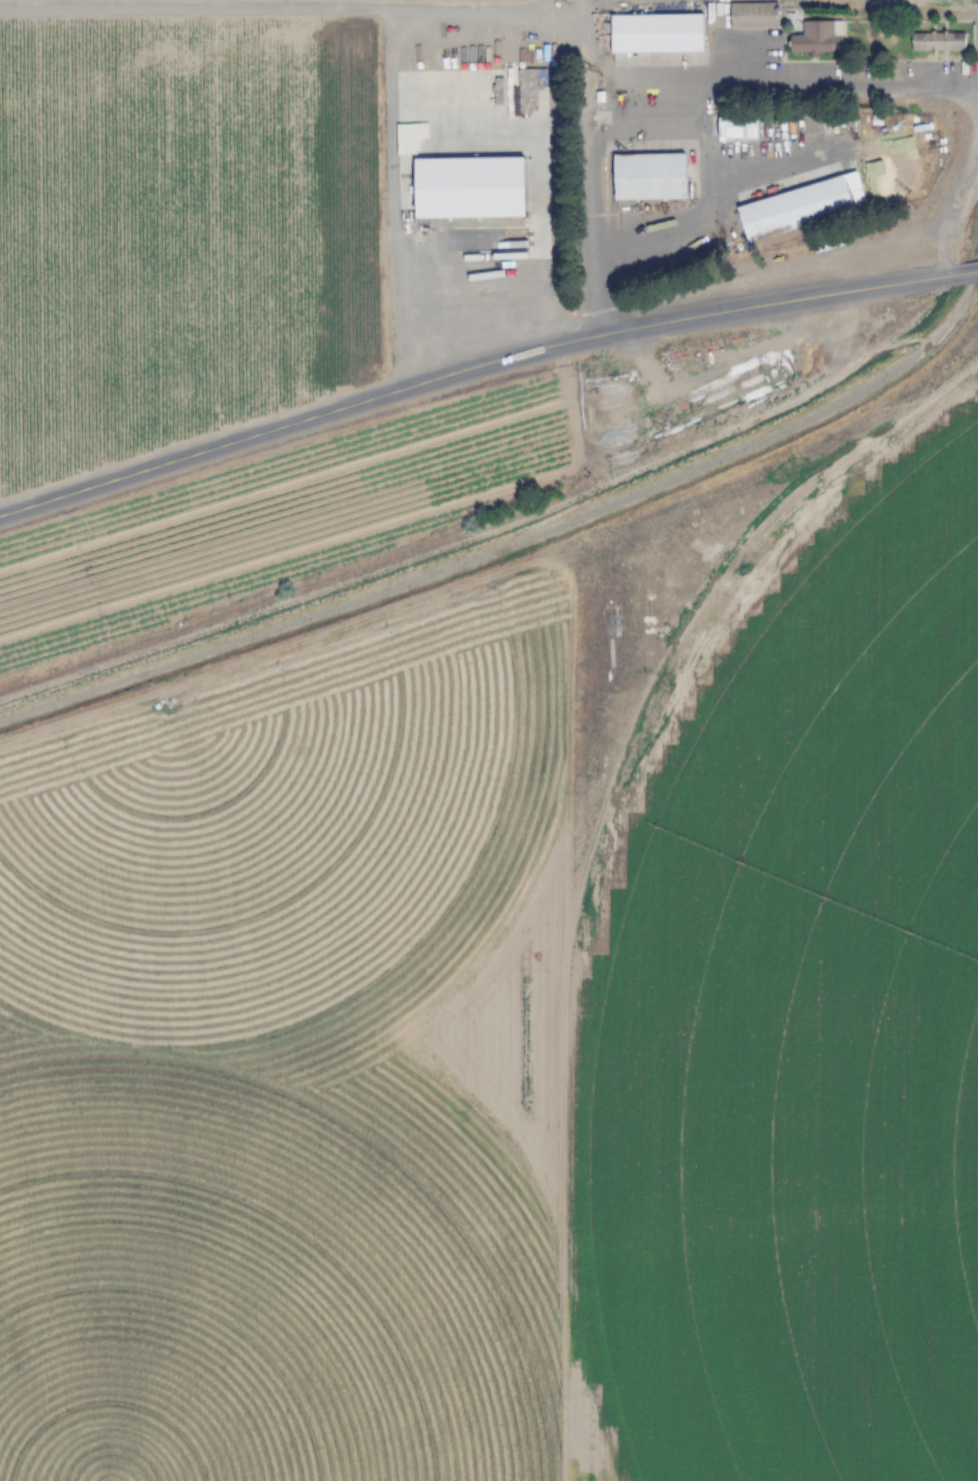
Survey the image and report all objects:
building: (752, 15)
road: (579, 30)
building: (657, 33)
building: (819, 37)
building: (938, 42)
building: (737, 128)
building: (650, 177)
building: (470, 188)
building: (802, 207)
road: (968, 270)
road: (475, 373)

